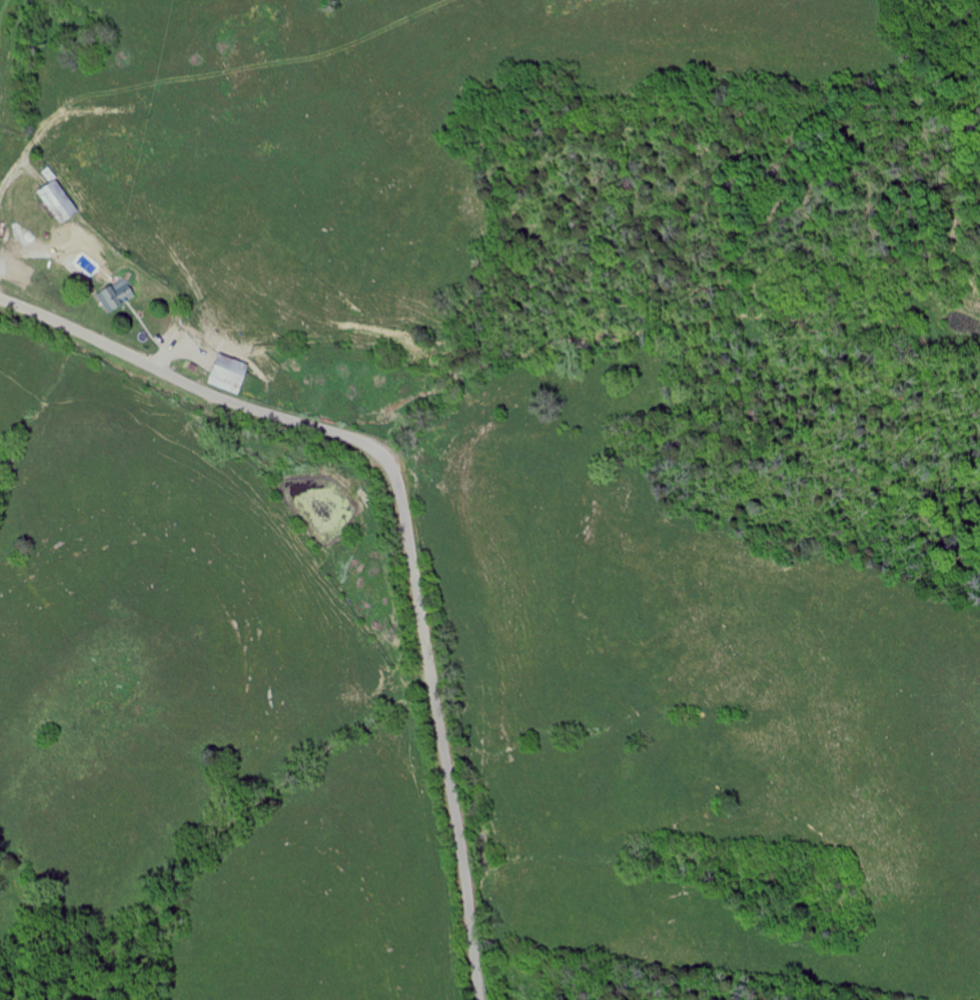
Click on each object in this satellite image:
road: (14, 165)
building: (62, 202)
building: (118, 296)
building: (233, 375)
road: (405, 520)

